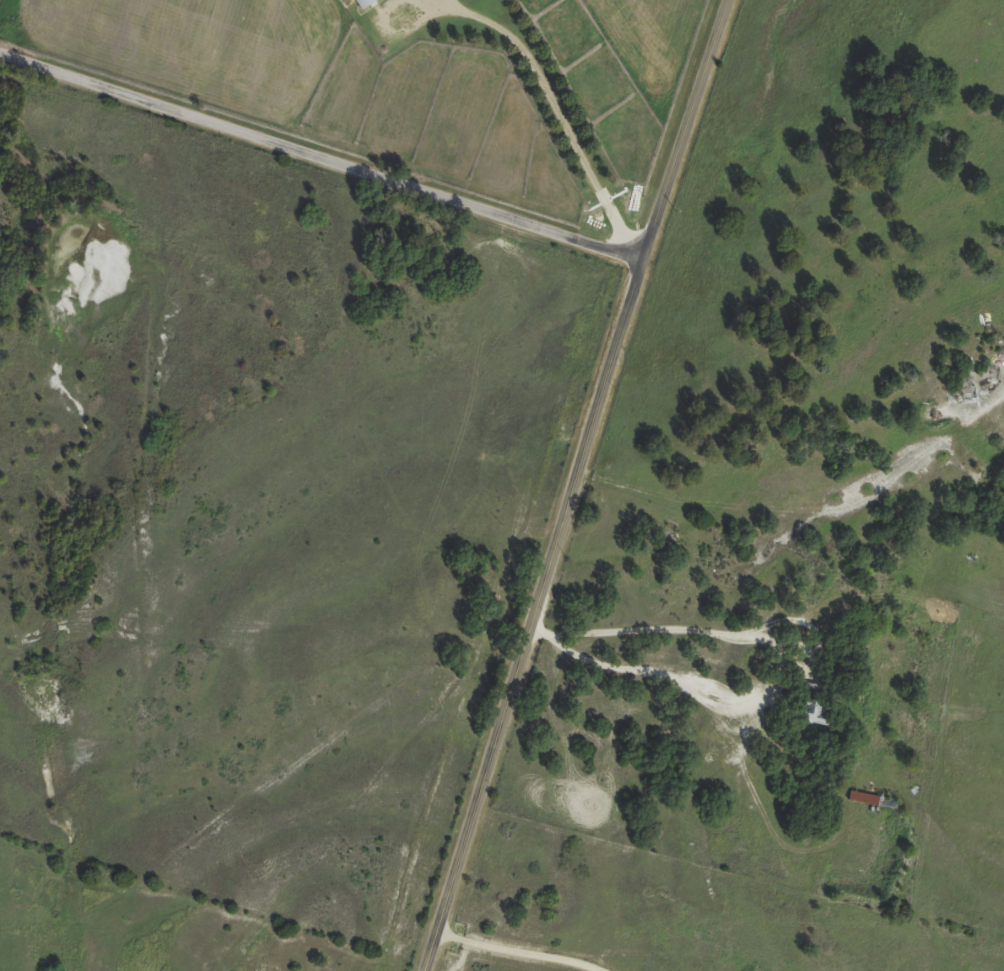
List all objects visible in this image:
building: (363, 3)
road: (555, 114)
road: (319, 158)
road: (572, 485)
road: (764, 676)
road: (516, 951)

